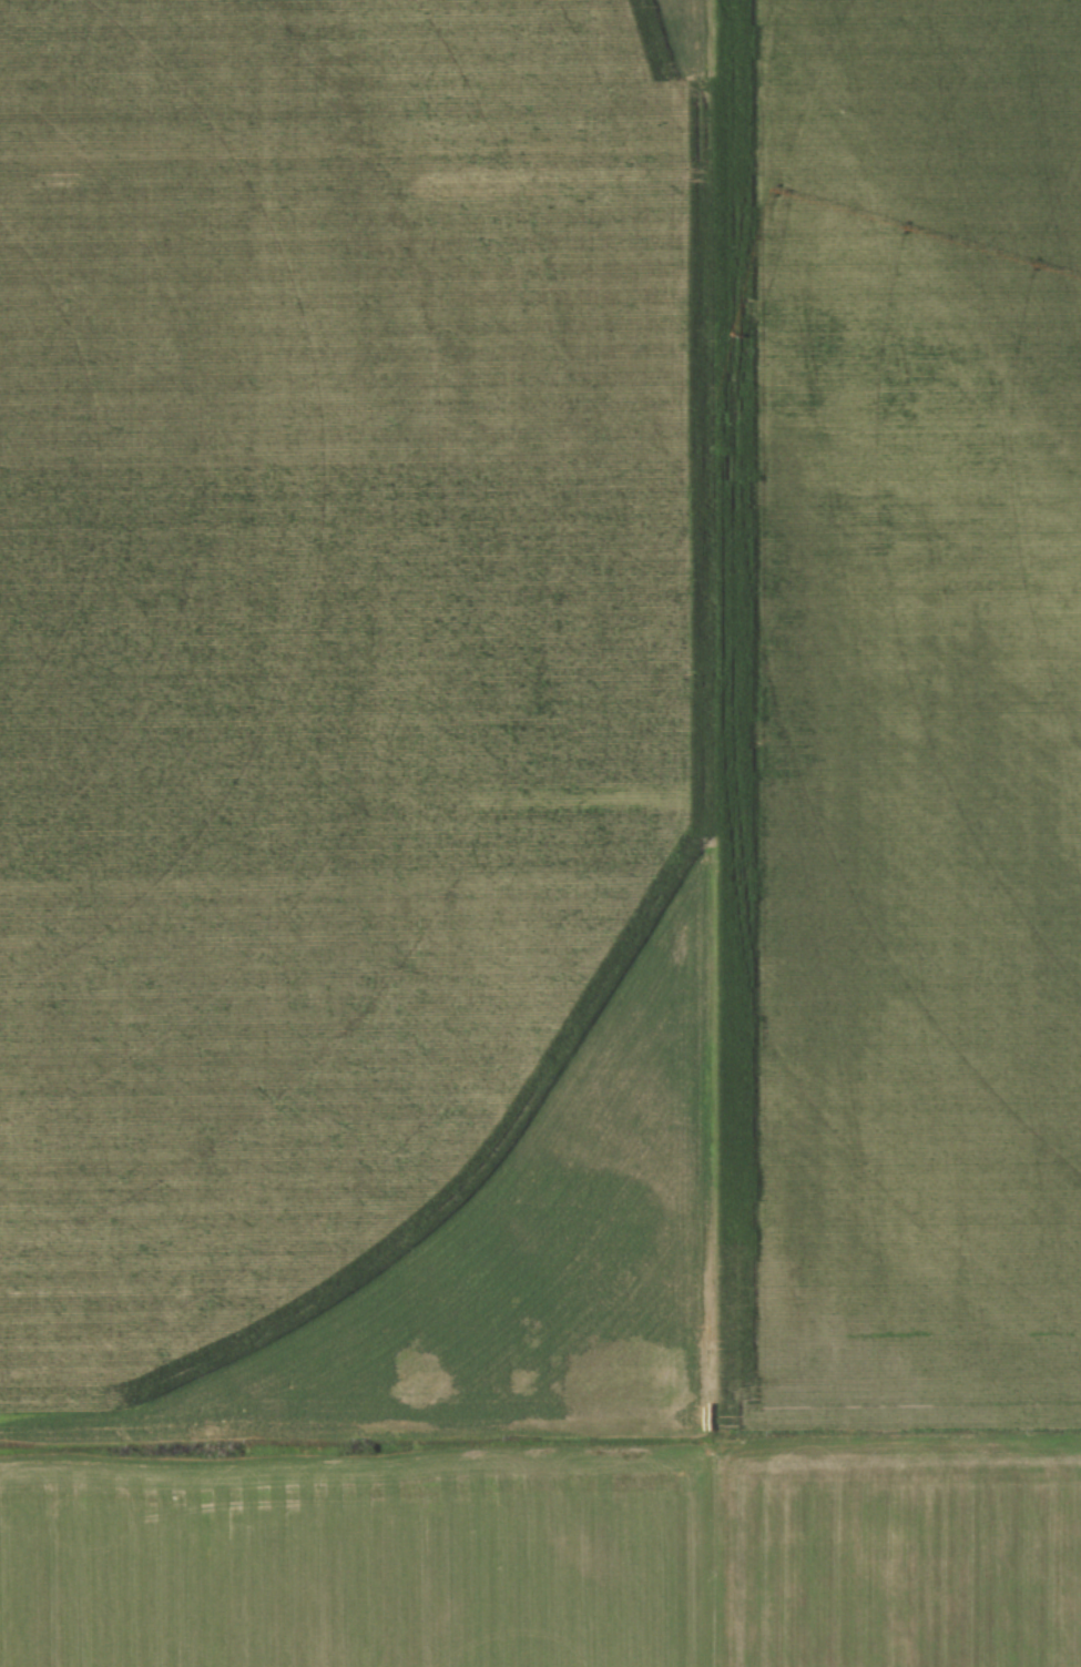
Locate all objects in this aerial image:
crop: (540, 833)

